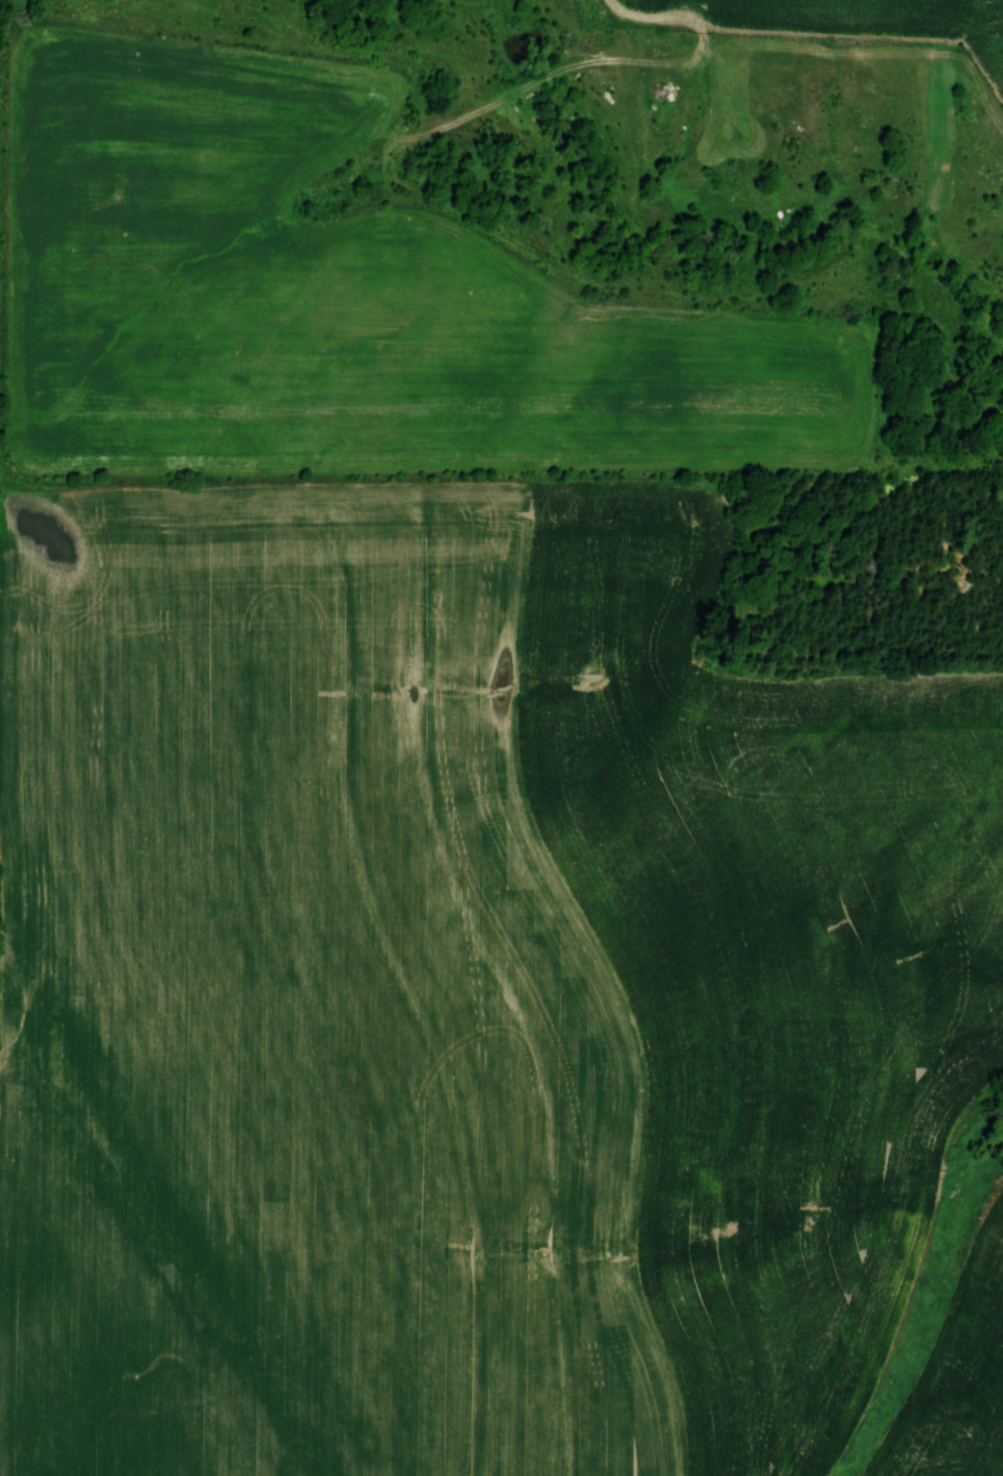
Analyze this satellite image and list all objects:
crop: (305, 999)

